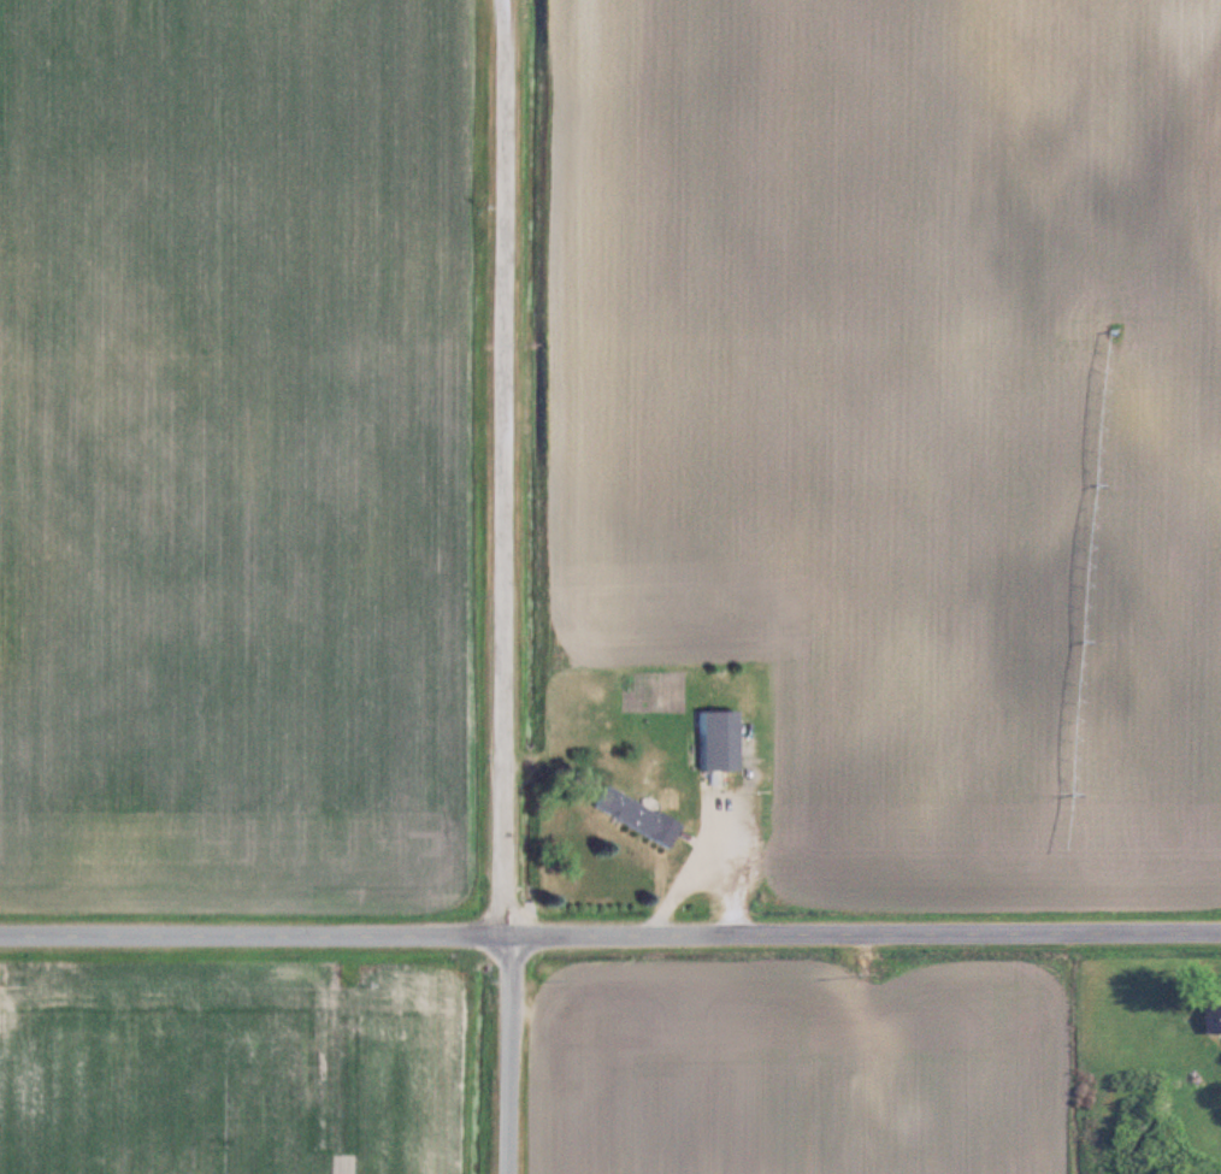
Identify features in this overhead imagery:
road: (505, 586)
building: (722, 742)
building: (641, 814)
road: (609, 934)
building: (1216, 1016)
building: (830, 1037)
building: (880, 1104)

